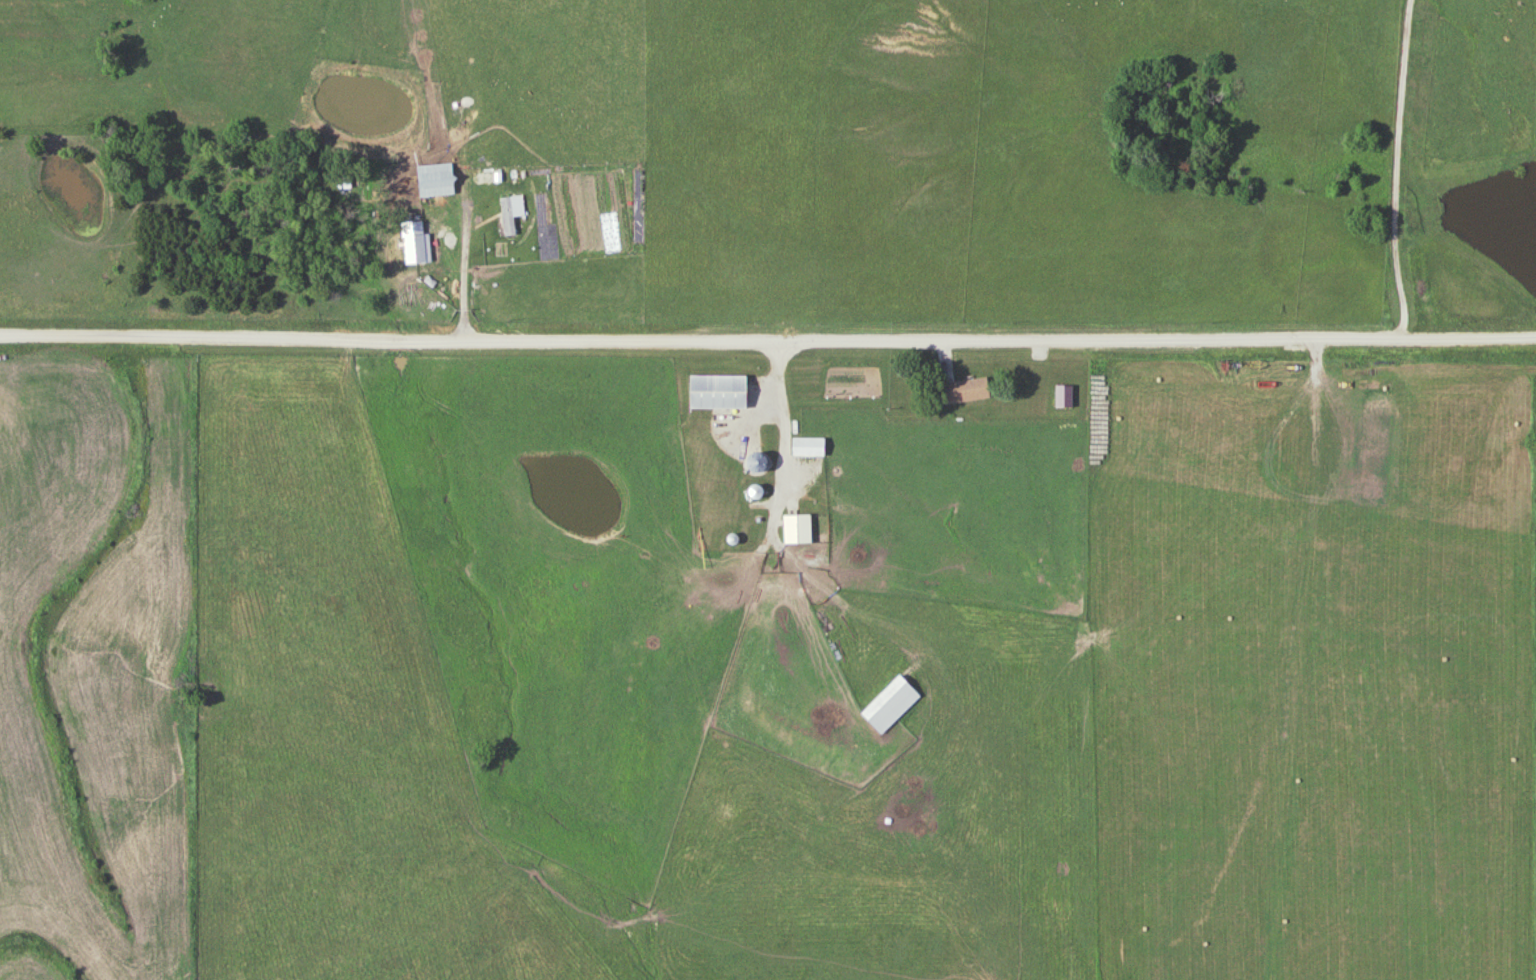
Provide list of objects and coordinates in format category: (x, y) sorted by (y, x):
road: (767, 343)
building: (969, 390)
building: (720, 392)
road: (790, 434)
building: (811, 446)
building: (760, 461)
building: (758, 491)
building: (800, 528)
building: (893, 704)

